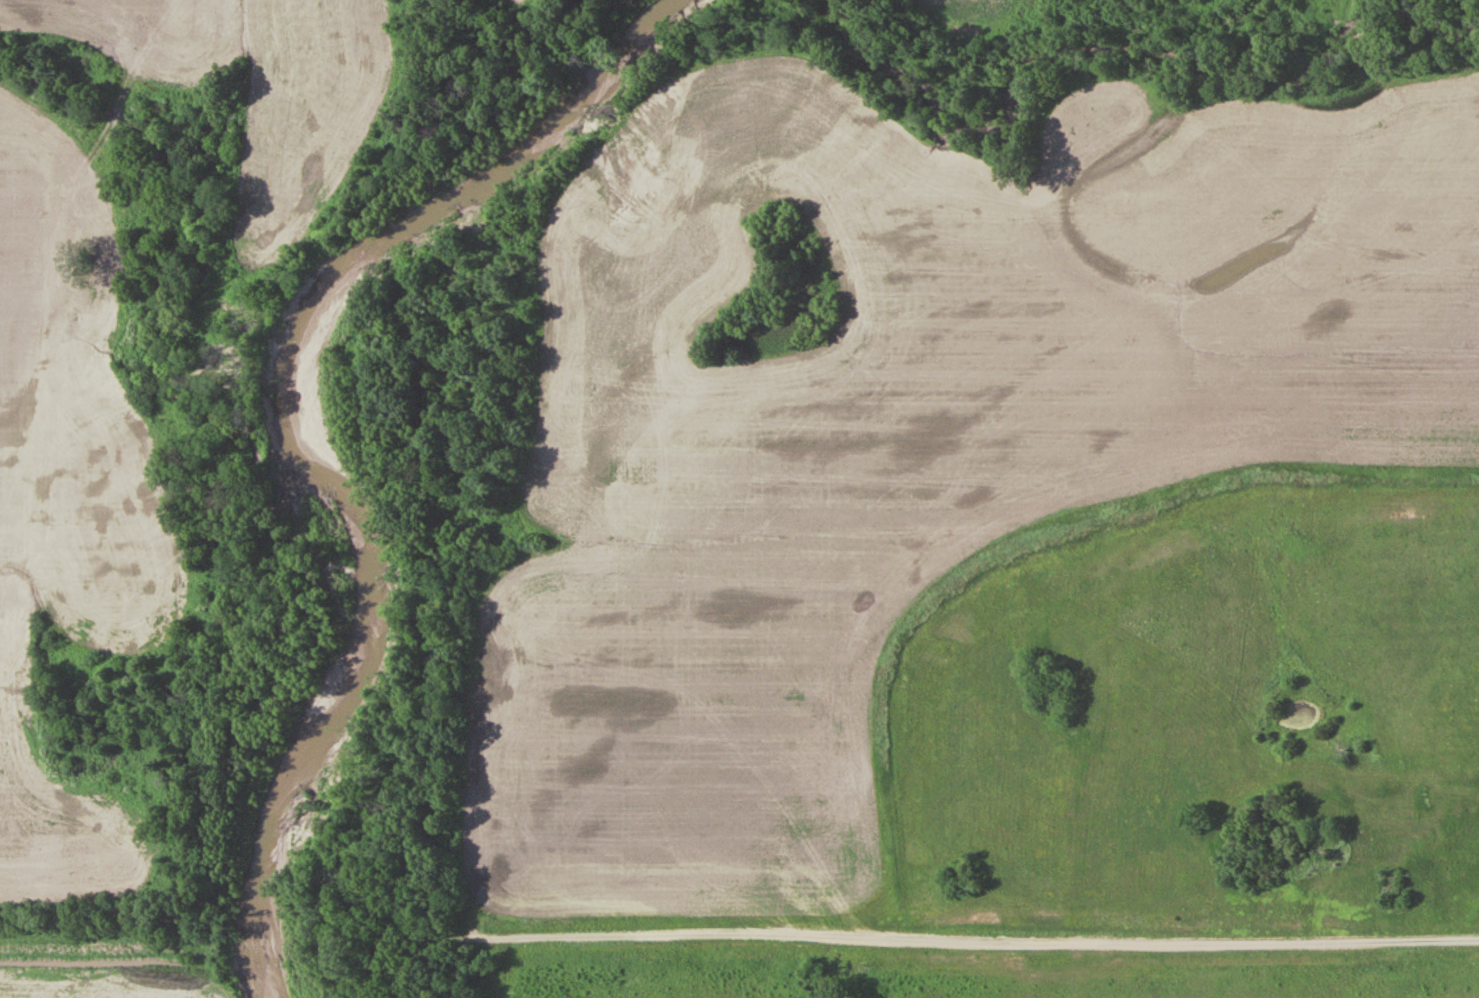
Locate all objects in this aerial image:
road: (923, 938)

